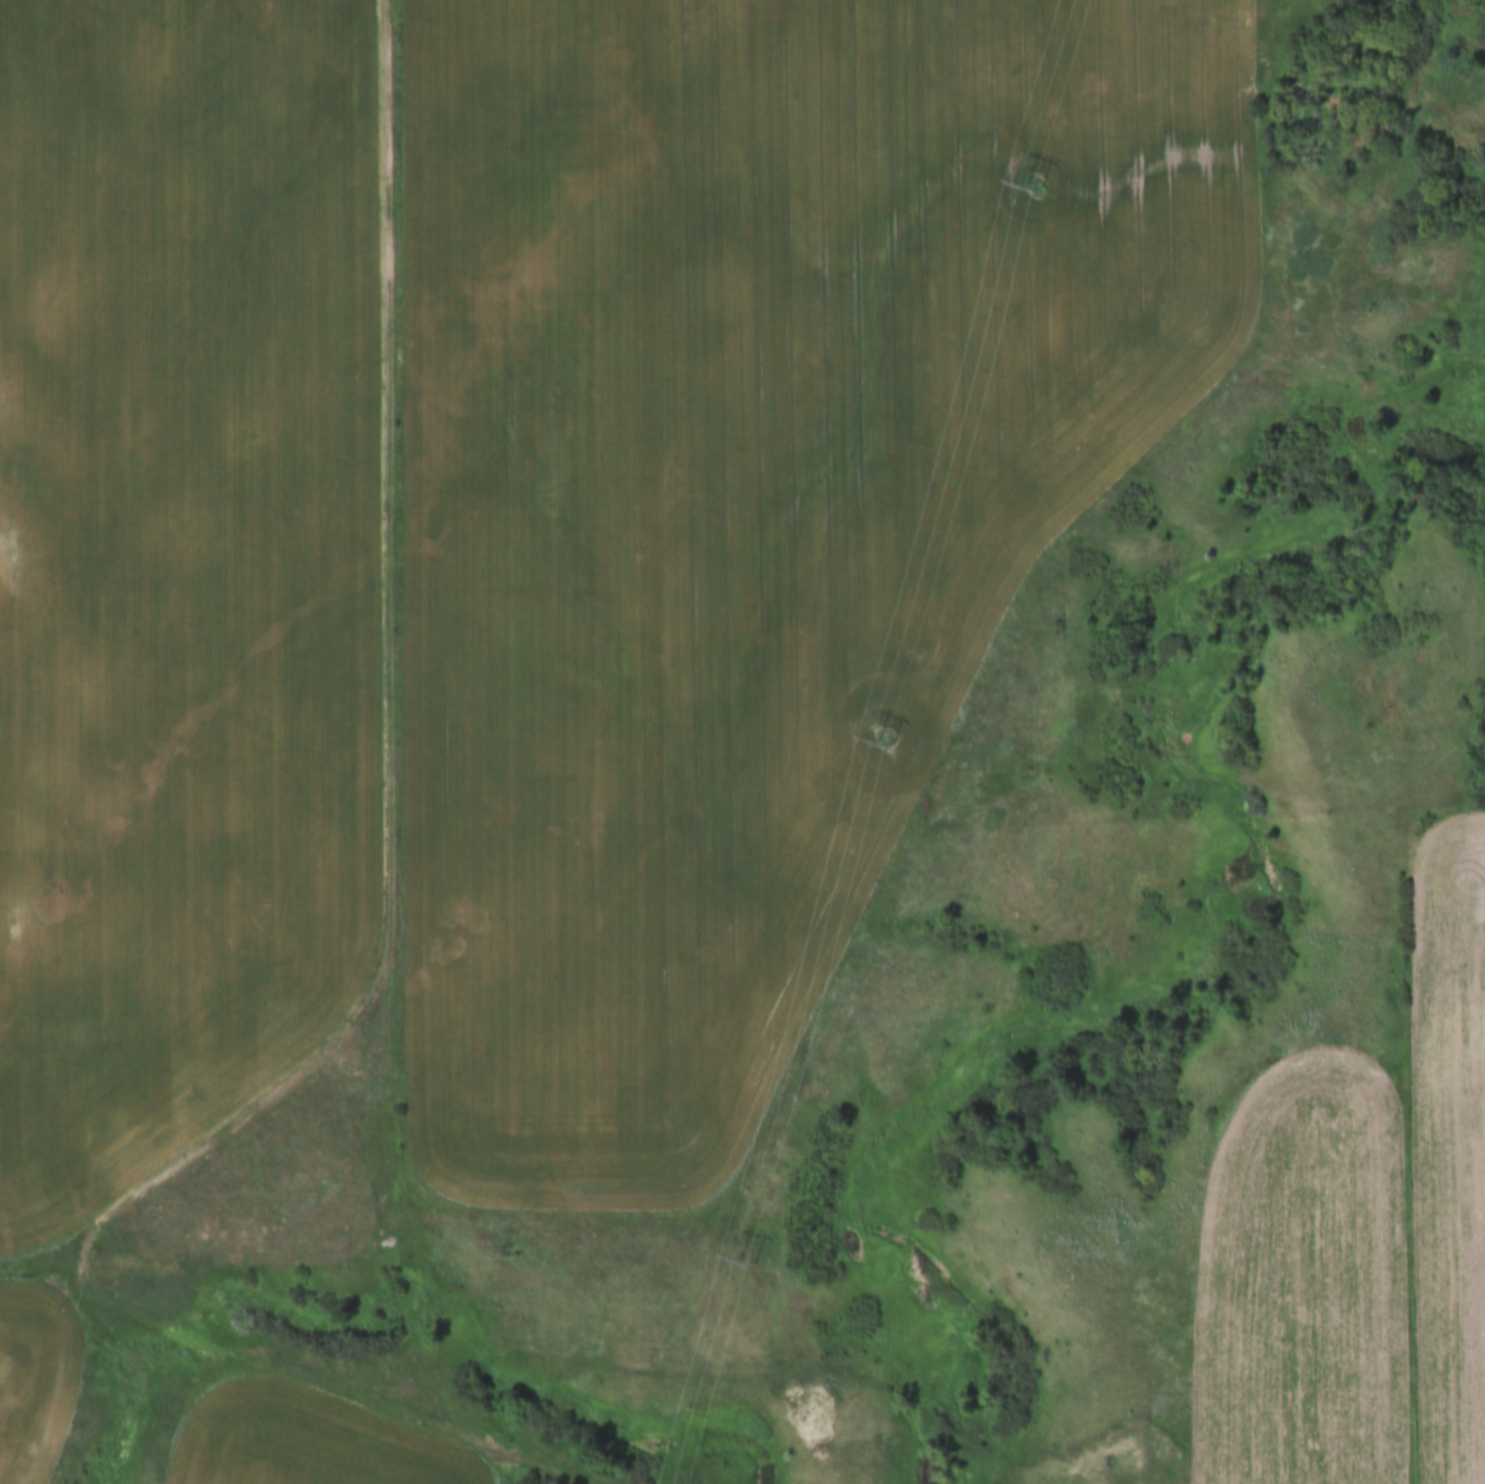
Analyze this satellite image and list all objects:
power tower: (1041, 179)
road: (388, 663)
power tower: (893, 747)
power tower: (759, 1265)

